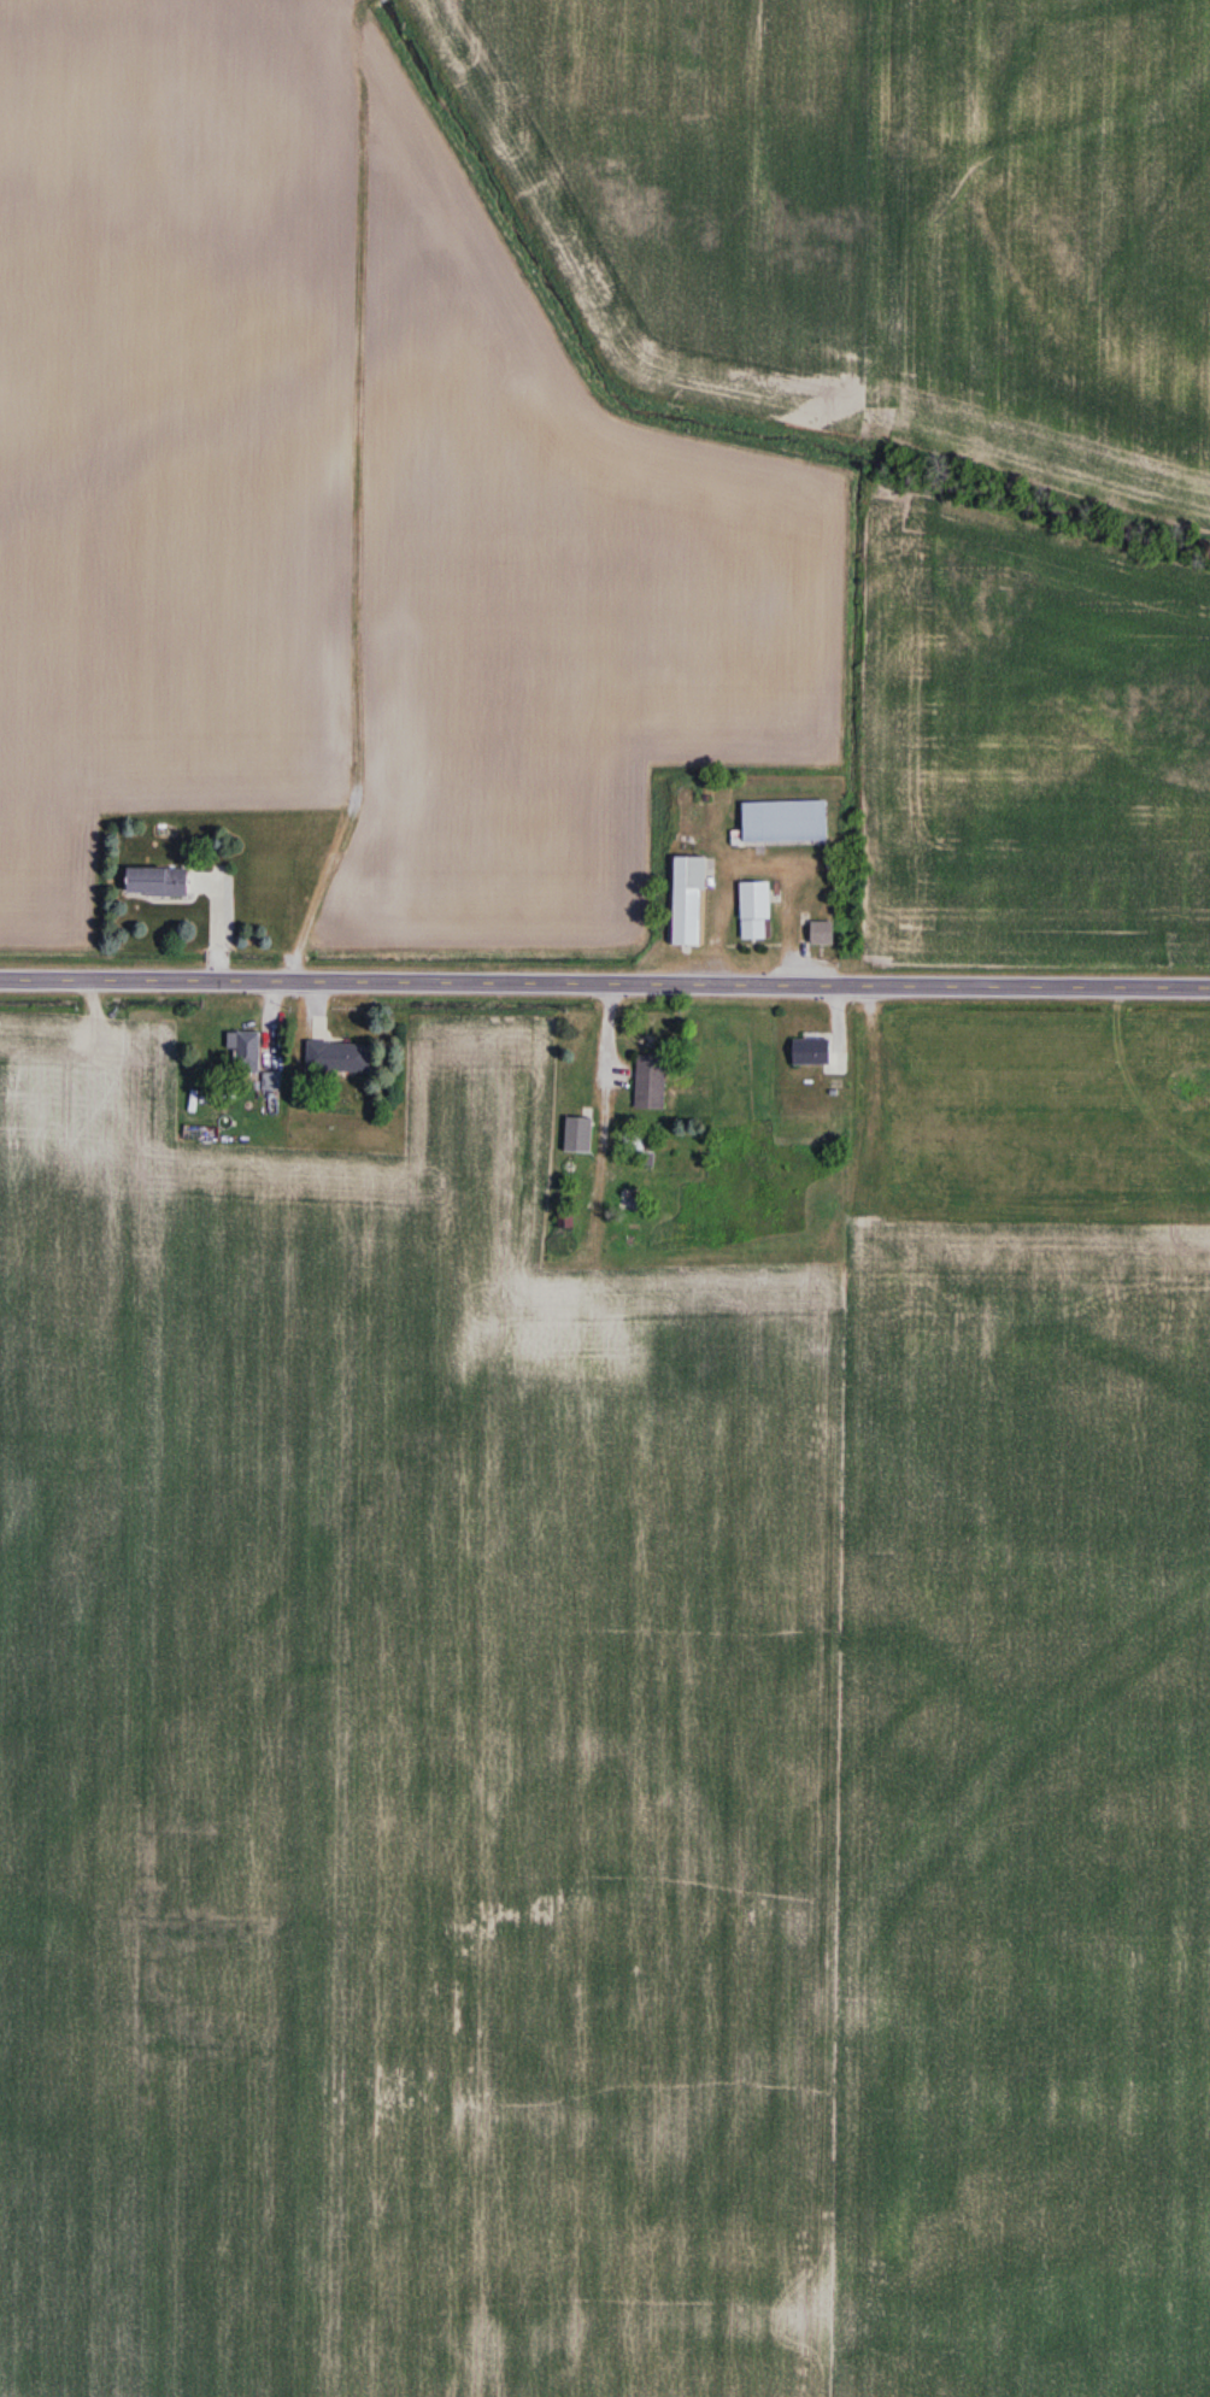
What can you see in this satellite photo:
building: (786, 819)
building: (159, 882)
building: (689, 899)
building: (753, 928)
building: (823, 932)
road: (605, 979)
building: (247, 1048)
building: (812, 1051)
building: (340, 1056)
building: (651, 1081)
building: (274, 1082)
building: (578, 1133)
building: (634, 1141)

